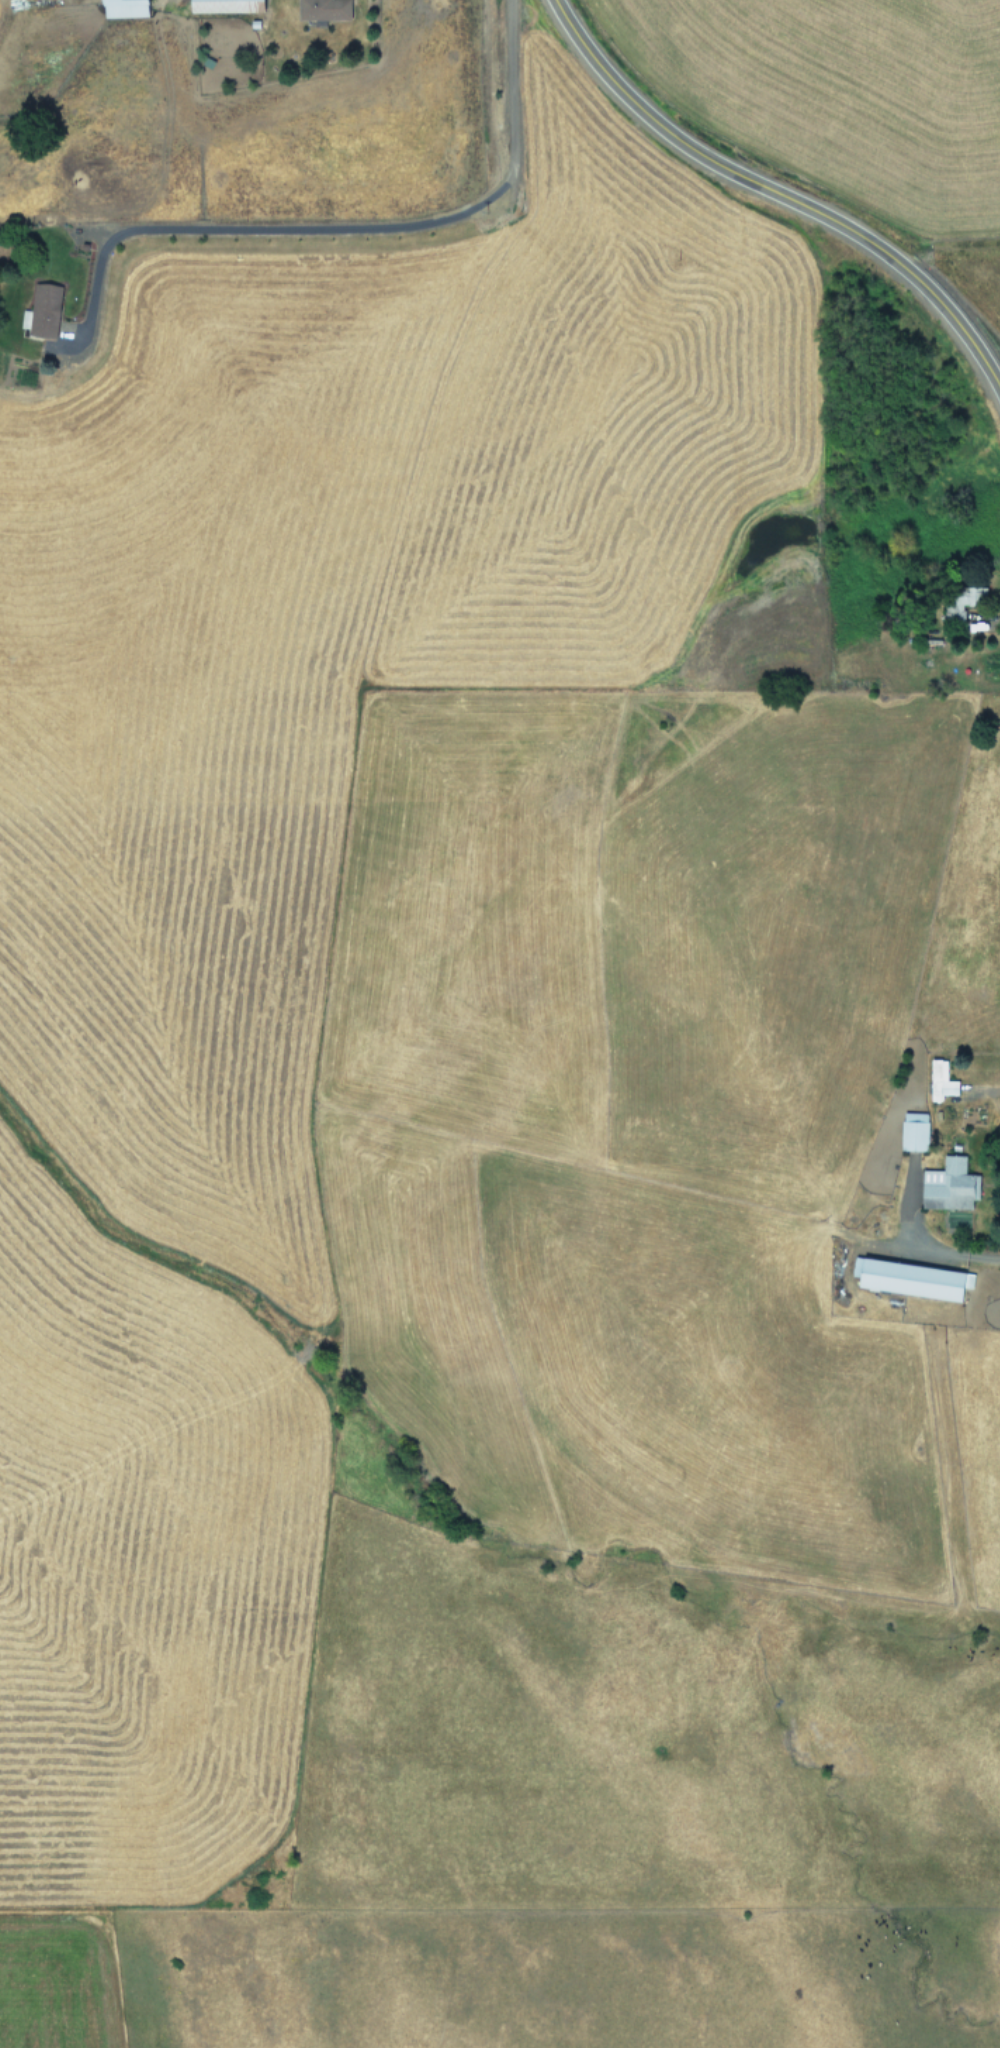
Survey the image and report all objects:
building: (126, 8)
building: (324, 8)
crop: (859, 90)
road: (777, 194)
road: (336, 226)
building: (961, 602)
building: (940, 1079)
crop: (466, 1097)
building: (914, 1130)
building: (948, 1184)
road: (929, 1243)
building: (911, 1277)

